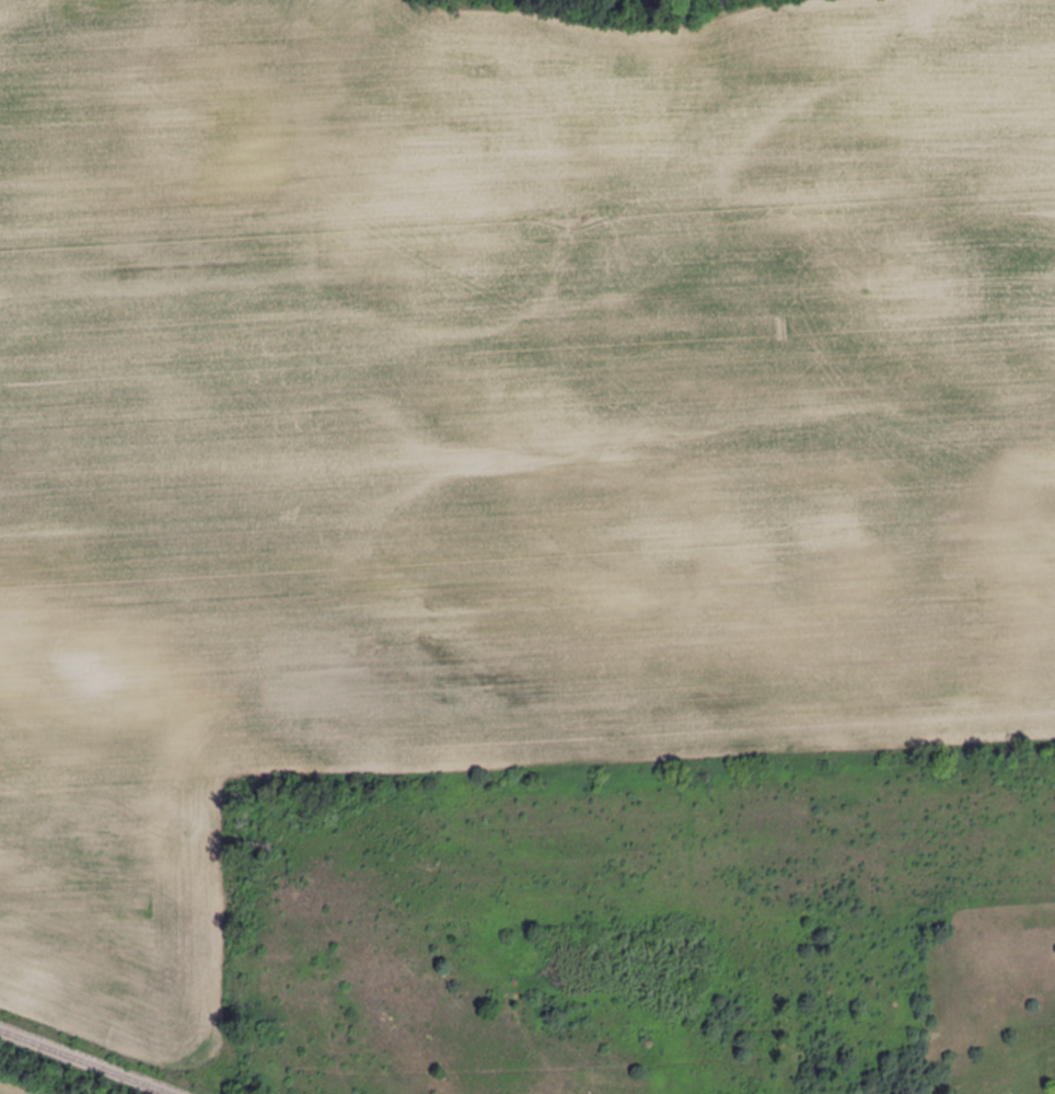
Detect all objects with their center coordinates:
railway: (84, 1062)

